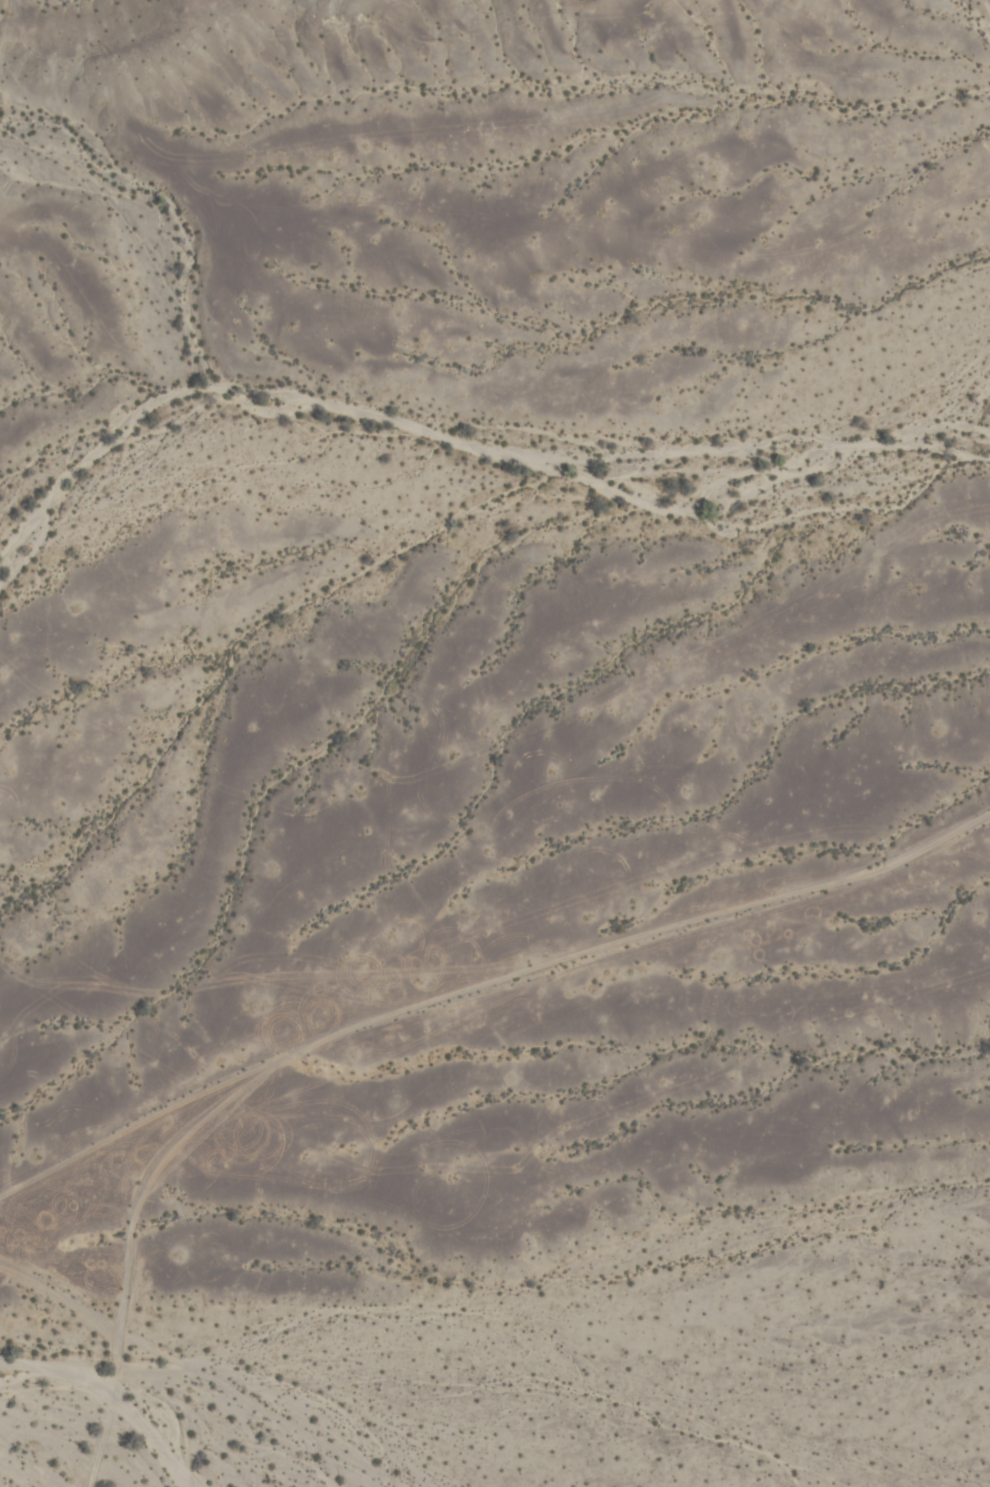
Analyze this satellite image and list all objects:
road: (638, 942)
road: (141, 1129)
road: (163, 1169)

